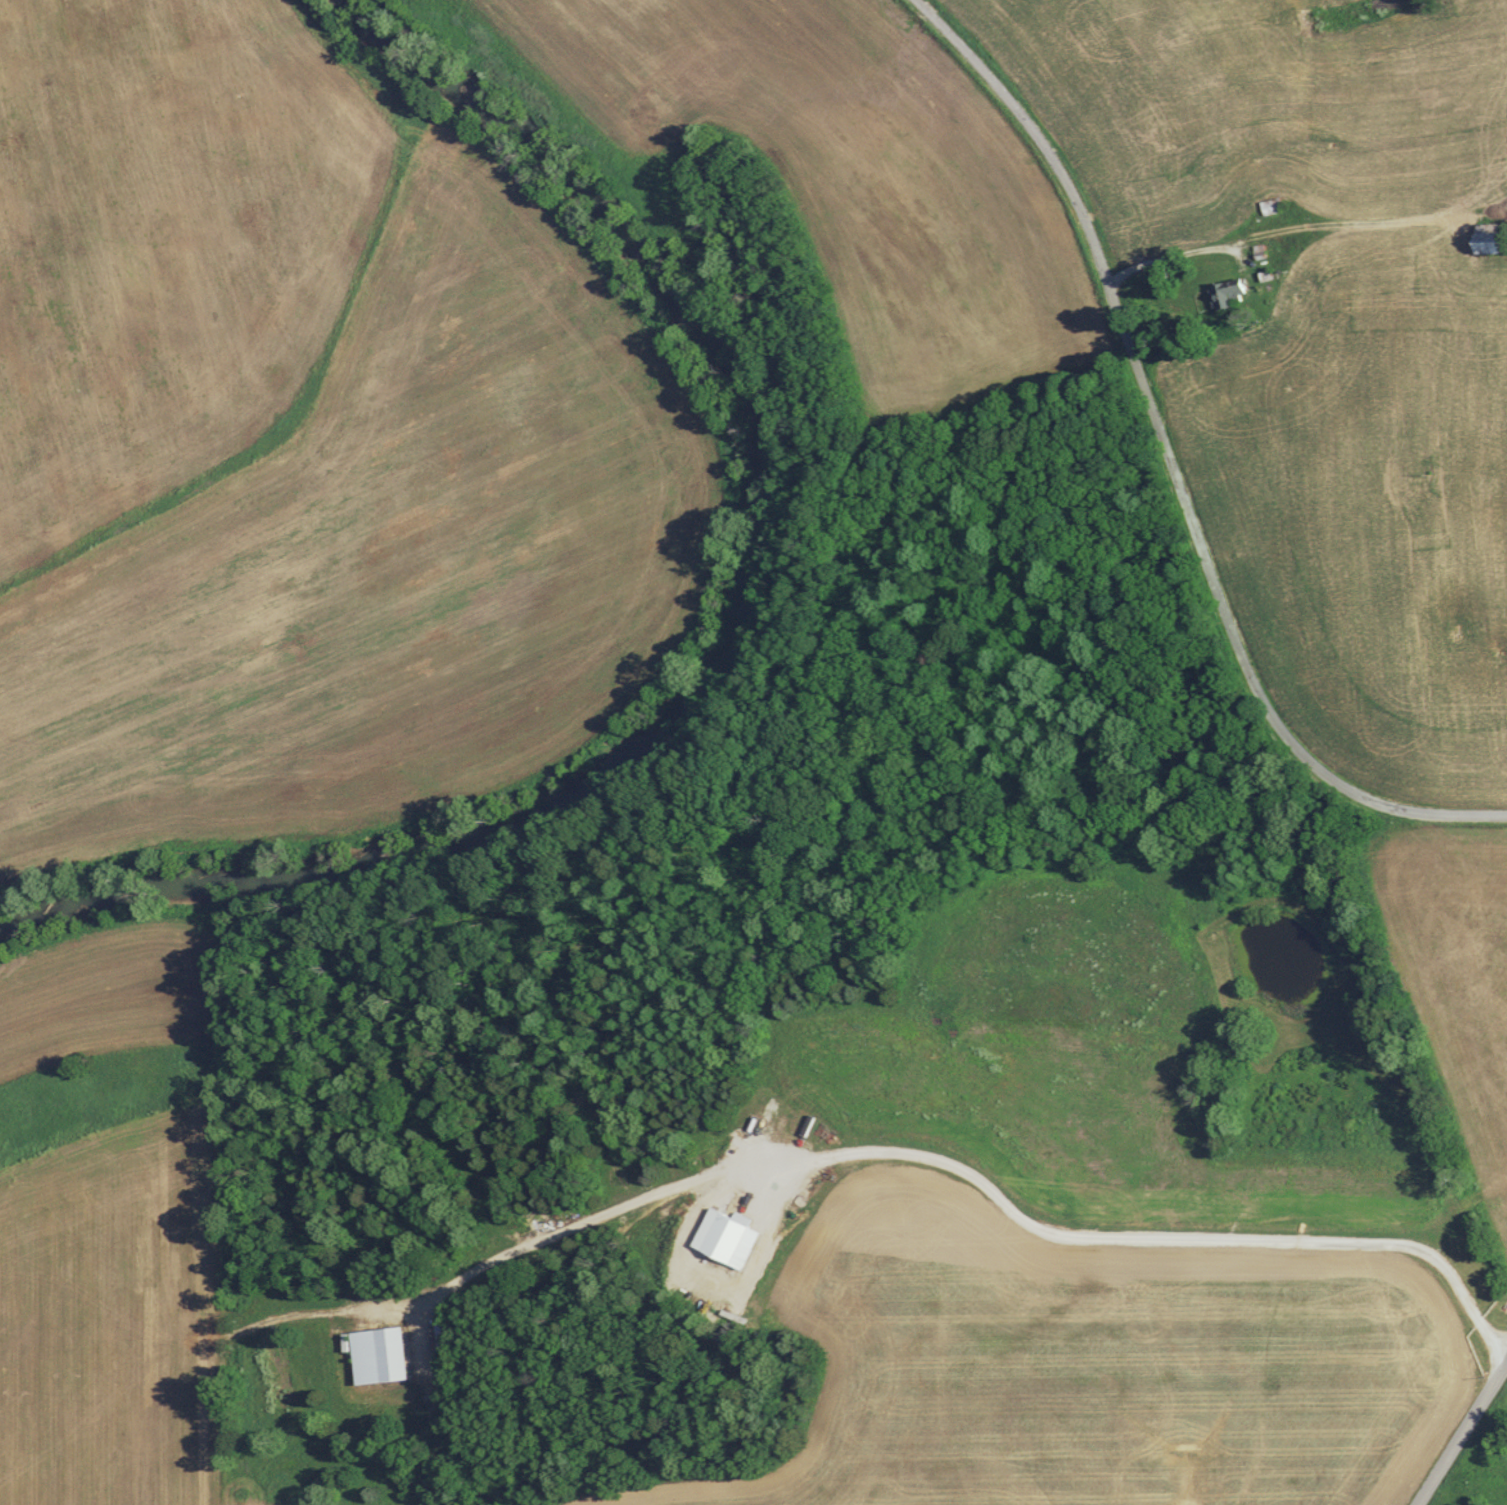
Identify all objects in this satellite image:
building: (1269, 206)
building: (1485, 232)
building: (1225, 293)
road: (1143, 389)
river: (737, 661)
road: (1426, 812)
building: (773, 1126)
building: (726, 1239)
road: (1135, 1239)
building: (374, 1354)
road: (1461, 1432)

